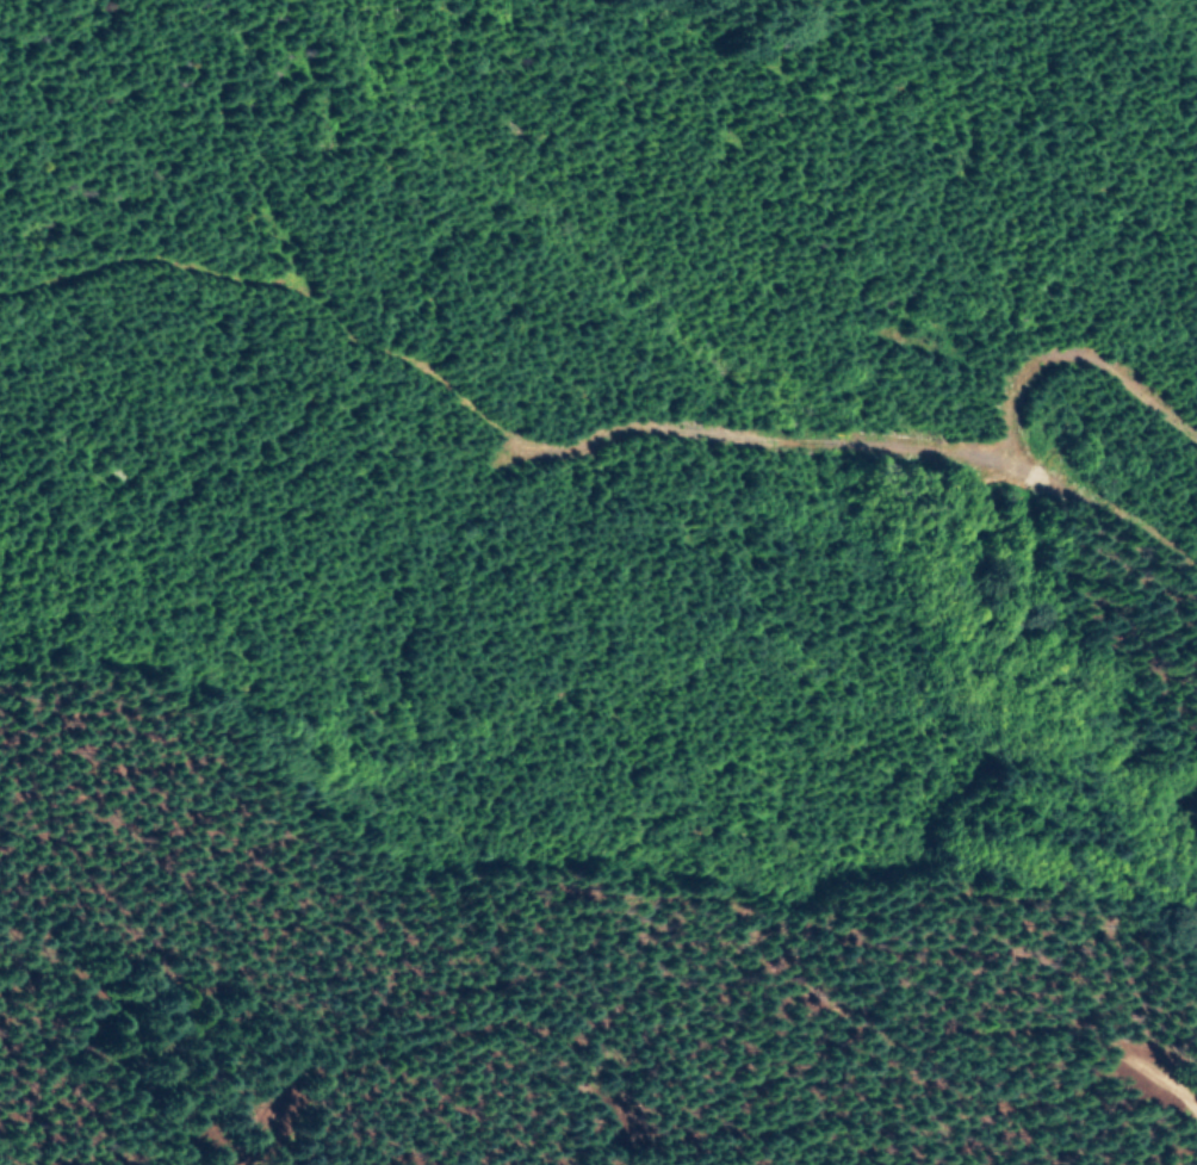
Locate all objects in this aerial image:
road: (981, 216)
road: (604, 448)
road: (460, 812)

